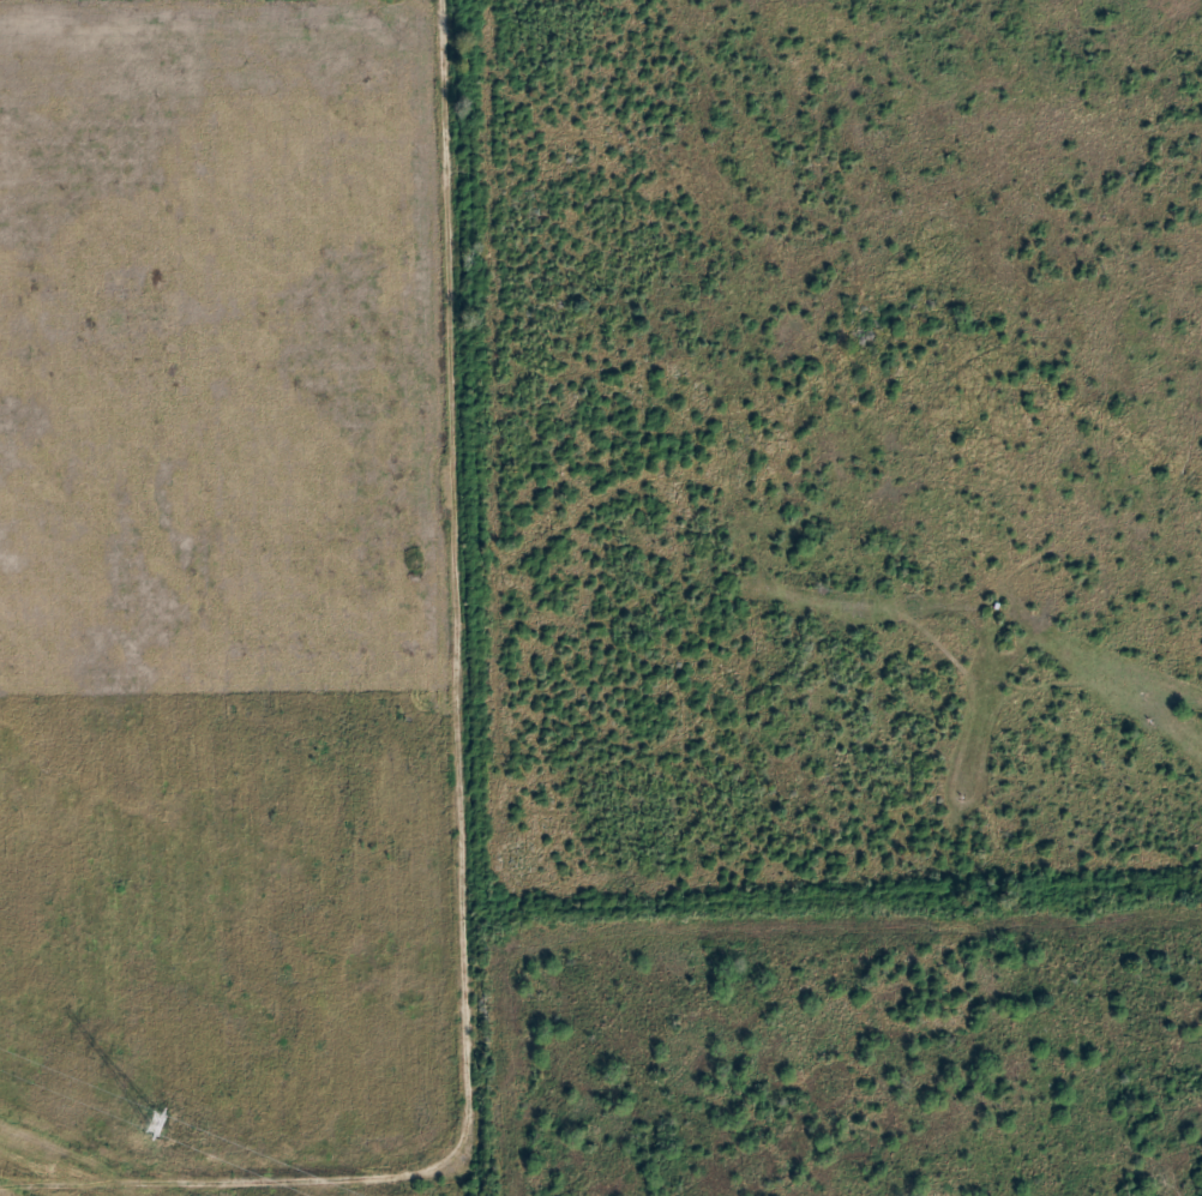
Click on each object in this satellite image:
power tower: (154, 1124)

